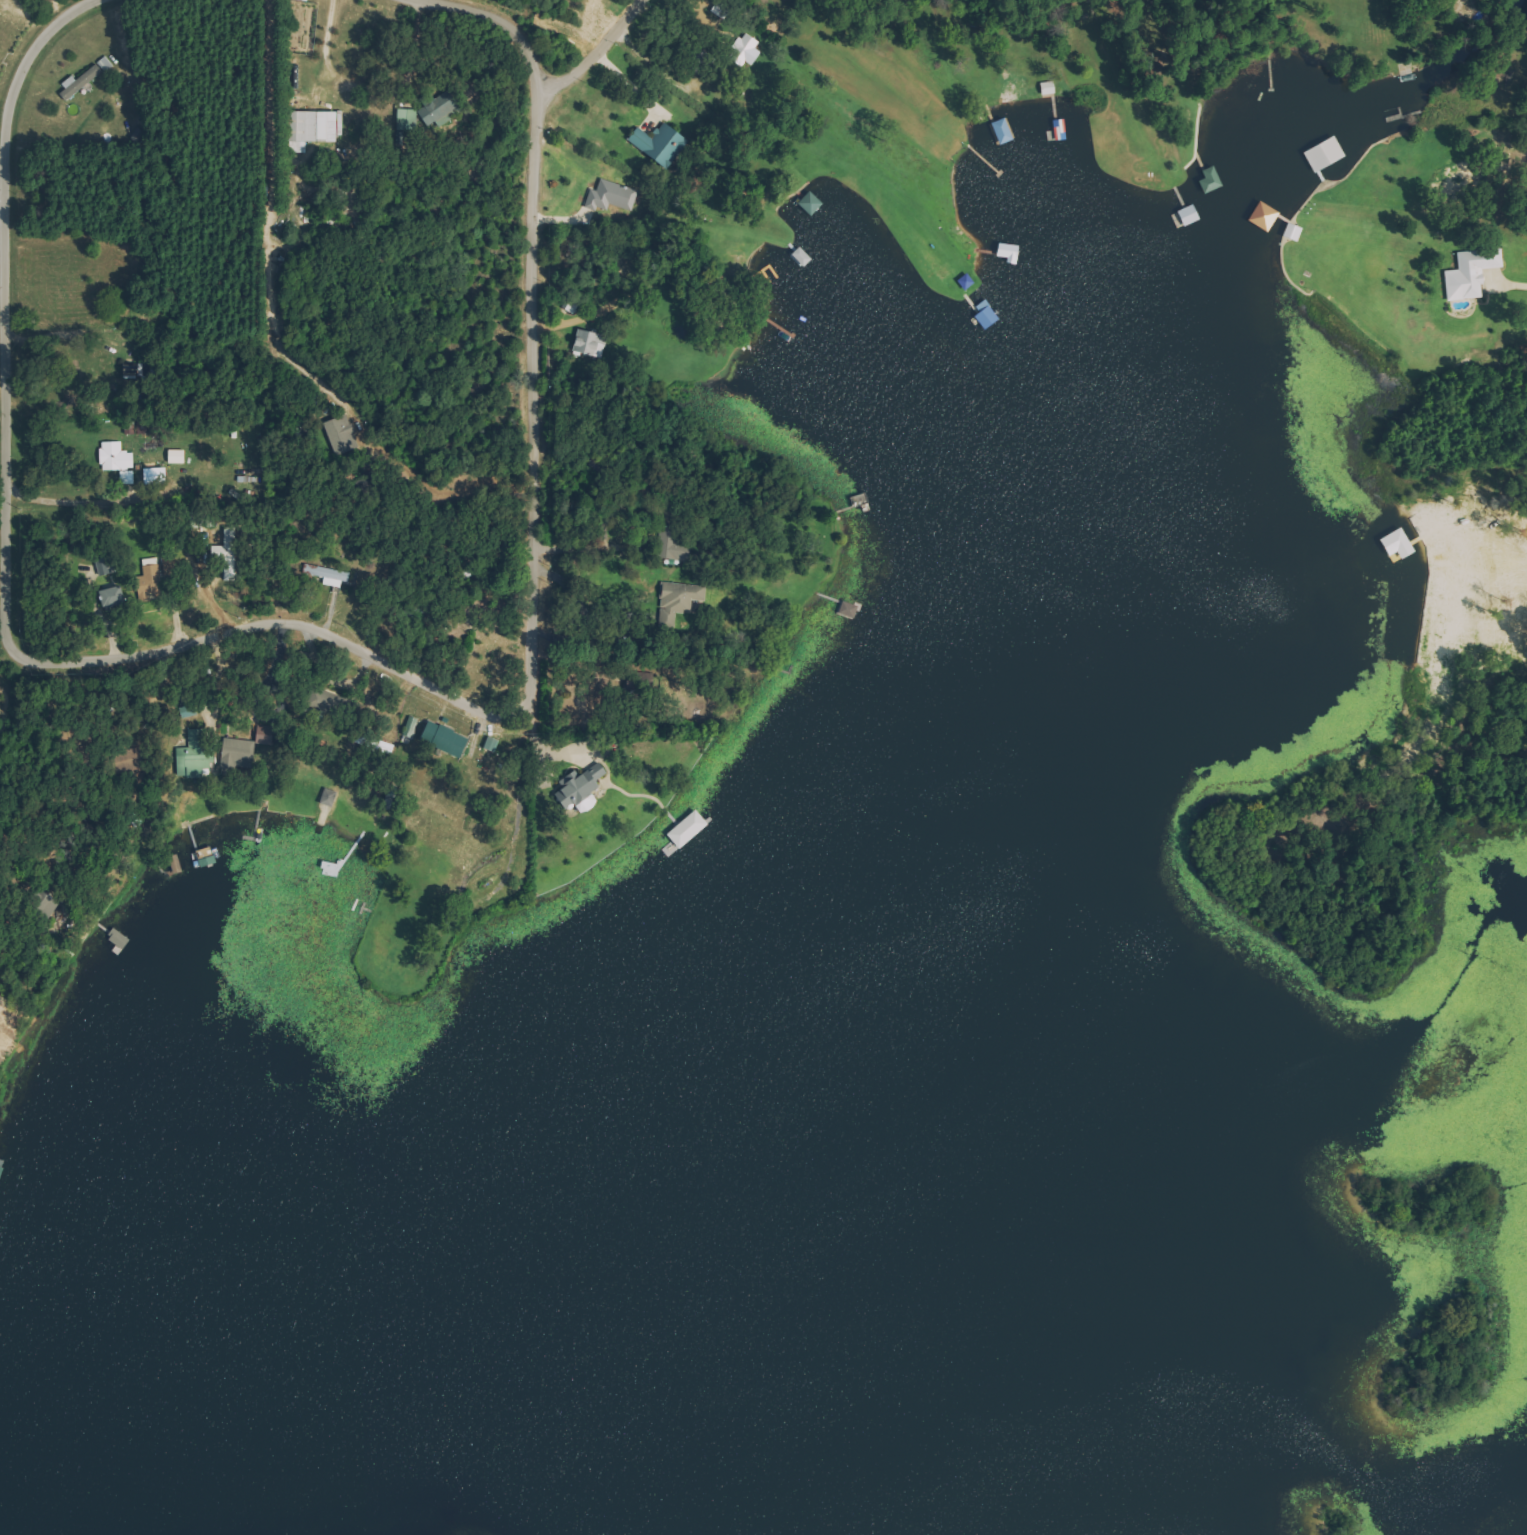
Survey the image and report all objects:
building: (742, 50)
road: (603, 55)
building: (86, 79)
building: (997, 131)
building: (652, 144)
building: (1206, 180)
building: (608, 196)
building: (806, 203)
road: (1, 214)
building: (1259, 217)
building: (1467, 274)
building: (581, 343)
building: (335, 435)
building: (173, 457)
building: (121, 461)
building: (673, 543)
building: (149, 574)
building: (327, 576)
building: (108, 597)
building: (675, 599)
road: (319, 633)
building: (320, 699)
building: (408, 728)
building: (444, 741)
building: (488, 745)
building: (379, 747)
building: (235, 752)
building: (192, 756)
building: (577, 788)
building: (326, 798)
building: (682, 830)

